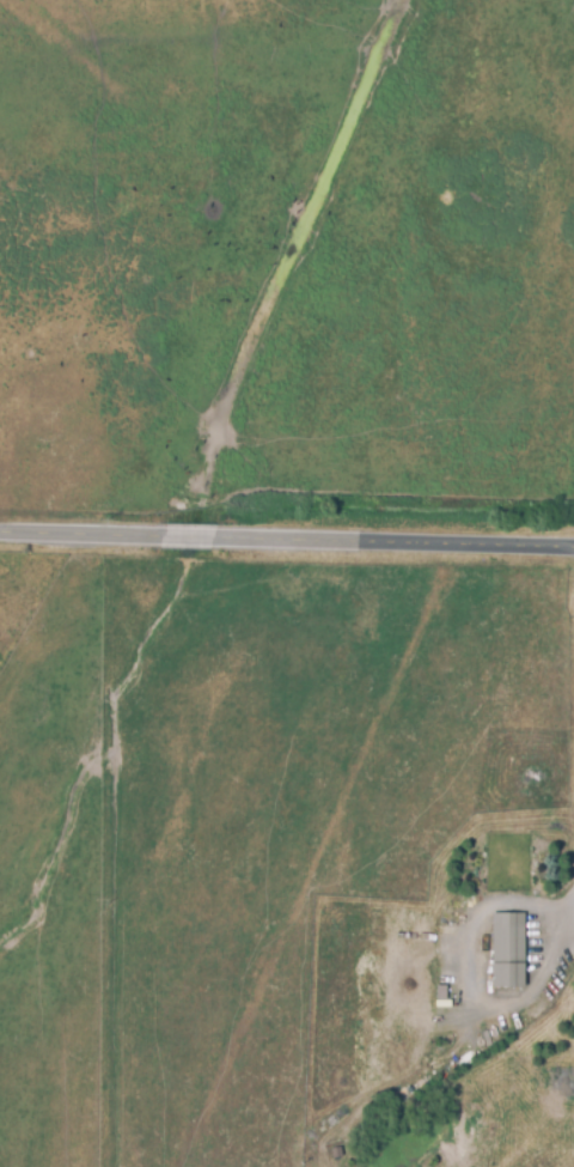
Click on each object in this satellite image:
road: (287, 531)
road: (566, 912)
road: (570, 919)
building: (507, 949)

